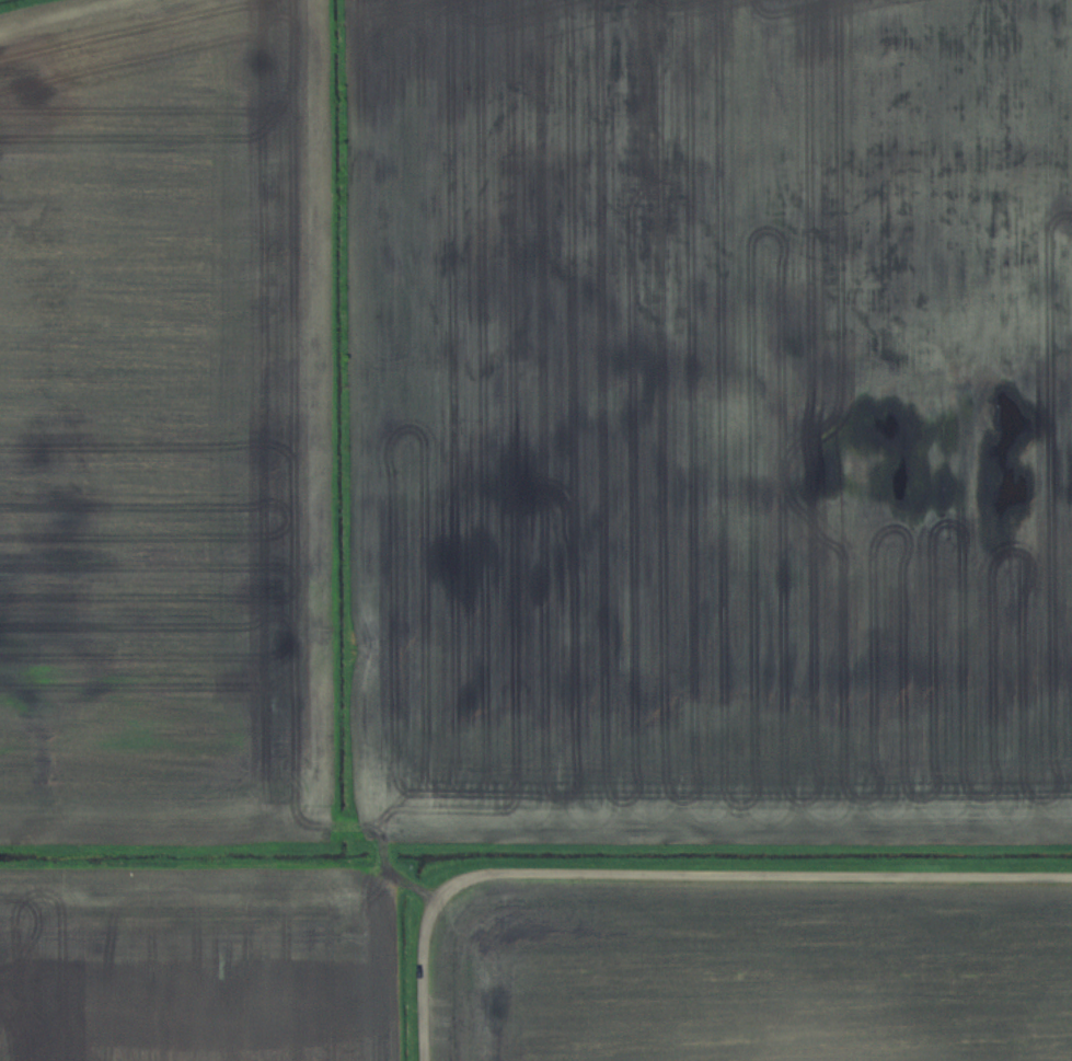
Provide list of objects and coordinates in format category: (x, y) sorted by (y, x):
road: (670, 877)

